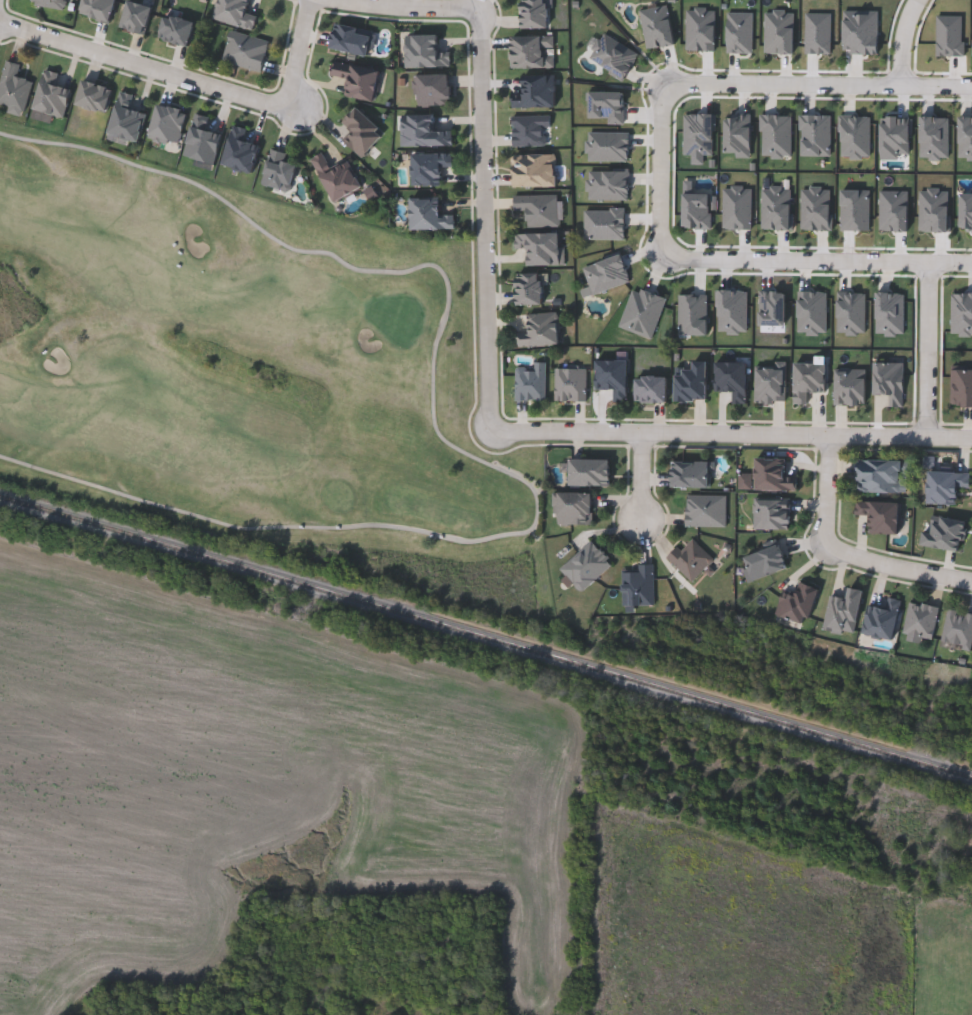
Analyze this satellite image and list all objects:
building: (49, 2)
road: (426, 3)
building: (97, 9)
building: (236, 13)
building: (534, 14)
building: (136, 17)
building: (176, 30)
road: (909, 39)
building: (245, 51)
building: (532, 51)
road: (288, 52)
building: (424, 52)
road: (139, 62)
building: (357, 80)
building: (13, 89)
building: (433, 89)
building: (536, 92)
building: (51, 96)
building: (93, 96)
building: (126, 119)
building: (167, 124)
building: (530, 130)
building: (423, 132)
building: (361, 133)
building: (202, 140)
building: (240, 152)
road: (667, 166)
building: (428, 168)
building: (534, 170)
building: (278, 172)
building: (336, 178)
building: (737, 207)
building: (537, 208)
building: (697, 210)
building: (855, 210)
building: (429, 214)
road: (483, 219)
building: (541, 247)
building: (529, 288)
building: (772, 307)
building: (732, 310)
building: (812, 312)
building: (851, 313)
building: (540, 330)
road: (929, 347)
park: (242, 371)
building: (613, 377)
building: (810, 378)
building: (732, 379)
building: (530, 382)
building: (691, 382)
building: (770, 382)
building: (570, 384)
building: (849, 386)
building: (961, 387)
building: (652, 388)
road: (733, 431)
building: (590, 472)
building: (690, 473)
building: (773, 474)
building: (880, 476)
road: (640, 477)
building: (946, 485)
road: (826, 491)
building: (575, 508)
building: (706, 510)
building: (772, 512)
building: (881, 515)
building: (945, 532)
building: (690, 558)
building: (764, 562)
building: (587, 566)
road: (900, 566)
building: (638, 585)
building: (798, 602)
building: (844, 612)
building: (883, 618)
building: (957, 630)
railway: (485, 635)

